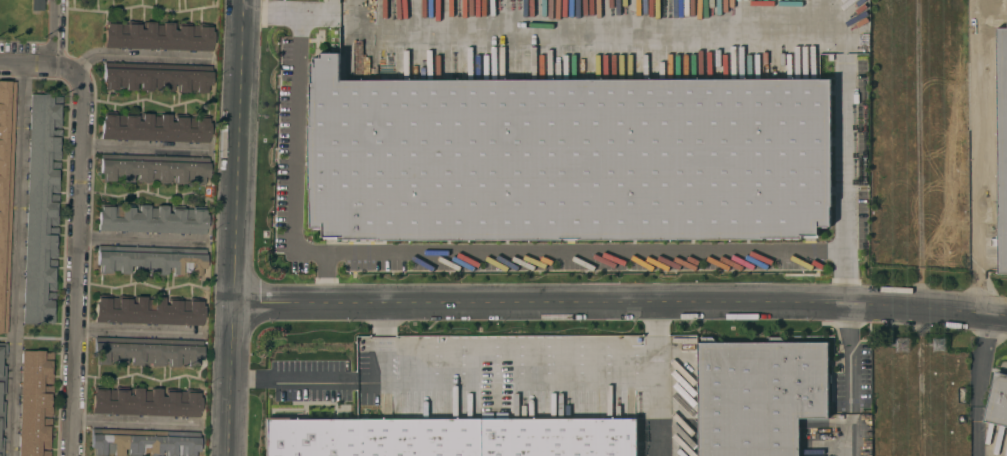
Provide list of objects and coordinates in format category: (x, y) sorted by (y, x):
building: (35, 5)
road: (290, 14)
road: (605, 16)
road: (56, 33)
building: (157, 37)
road: (141, 59)
road: (45, 65)
building: (155, 80)
building: (987, 90)
building: (152, 128)
building: (1002, 144)
building: (550, 145)
road: (145, 149)
road: (976, 156)
building: (153, 170)
building: (989, 174)
road: (845, 179)
building: (5, 189)
building: (39, 206)
building: (152, 220)
road: (238, 228)
road: (143, 246)
road: (449, 251)
road: (16, 259)
building: (150, 263)
road: (79, 270)
road: (326, 282)
building: (48, 291)
road: (621, 309)
building: (148, 311)
road: (141, 332)
power tower: (950, 345)
road: (382, 346)
power tower: (913, 352)
building: (147, 354)
building: (2, 367)
road: (539, 377)
road: (292, 380)
road: (849, 381)
road: (979, 386)
building: (762, 397)
building: (32, 402)
building: (145, 402)
building: (998, 402)
building: (1, 414)
road: (659, 417)
road: (137, 424)
building: (454, 438)
building: (144, 445)
building: (1, 446)

